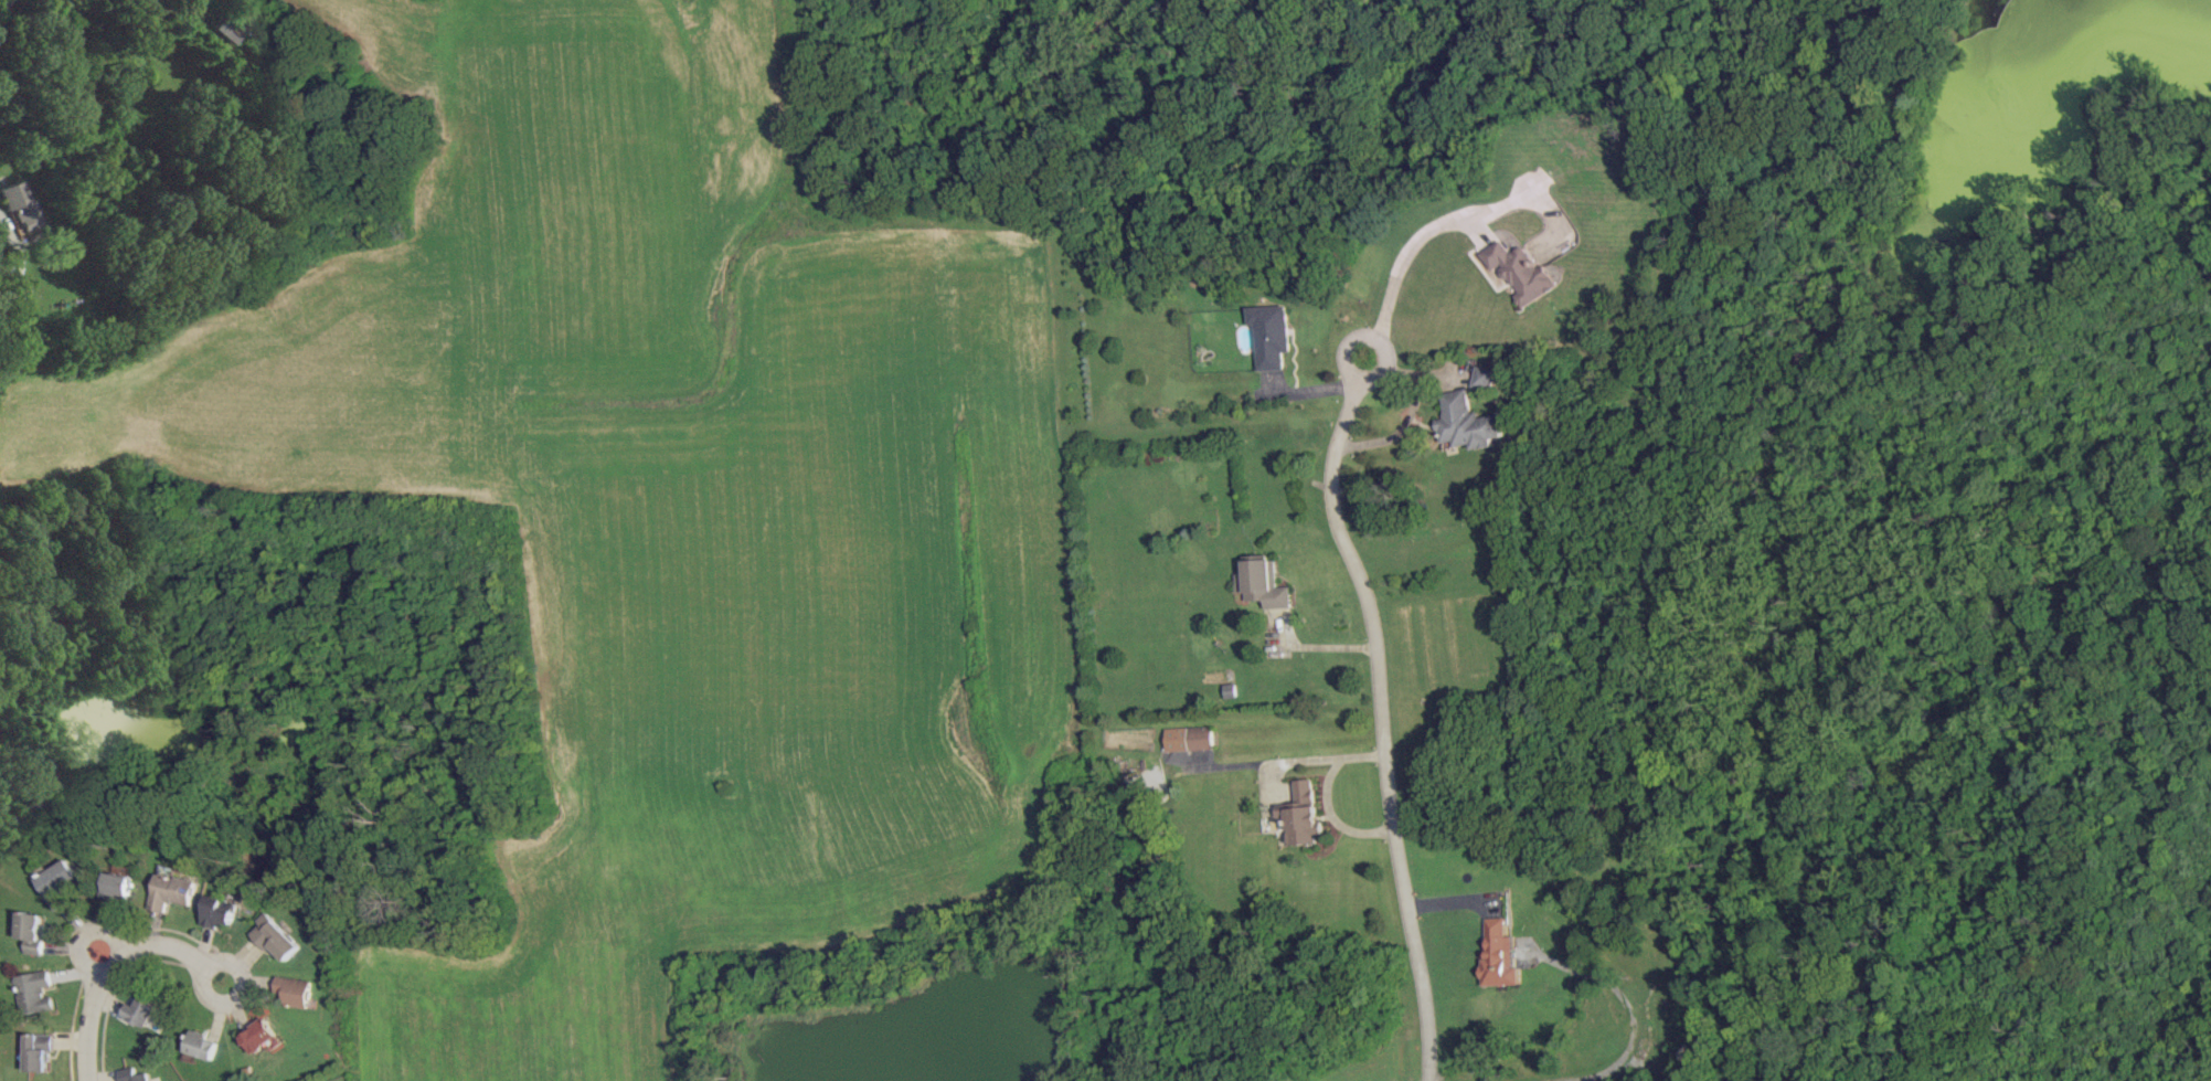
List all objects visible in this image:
road: (2, 3)
building: (232, 25)
building: (15, 203)
road: (1407, 262)
building: (1521, 272)
building: (11, 284)
building: (1272, 335)
road: (1372, 337)
building: (1484, 377)
building: (1468, 422)
crop: (660, 510)
building: (1263, 583)
road: (1384, 724)
building: (1188, 738)
road: (1332, 797)
building: (1301, 813)
building: (66, 882)
building: (126, 883)
building: (176, 891)
road: (1455, 899)
building: (222, 911)
building: (36, 930)
road: (84, 933)
building: (277, 936)
road: (170, 945)
building: (1501, 955)
building: (297, 990)
building: (36, 992)
road: (236, 995)
road: (1631, 1007)
road: (92, 1008)
building: (143, 1011)
building: (261, 1035)
building: (204, 1045)
building: (39, 1050)
building: (134, 1074)

